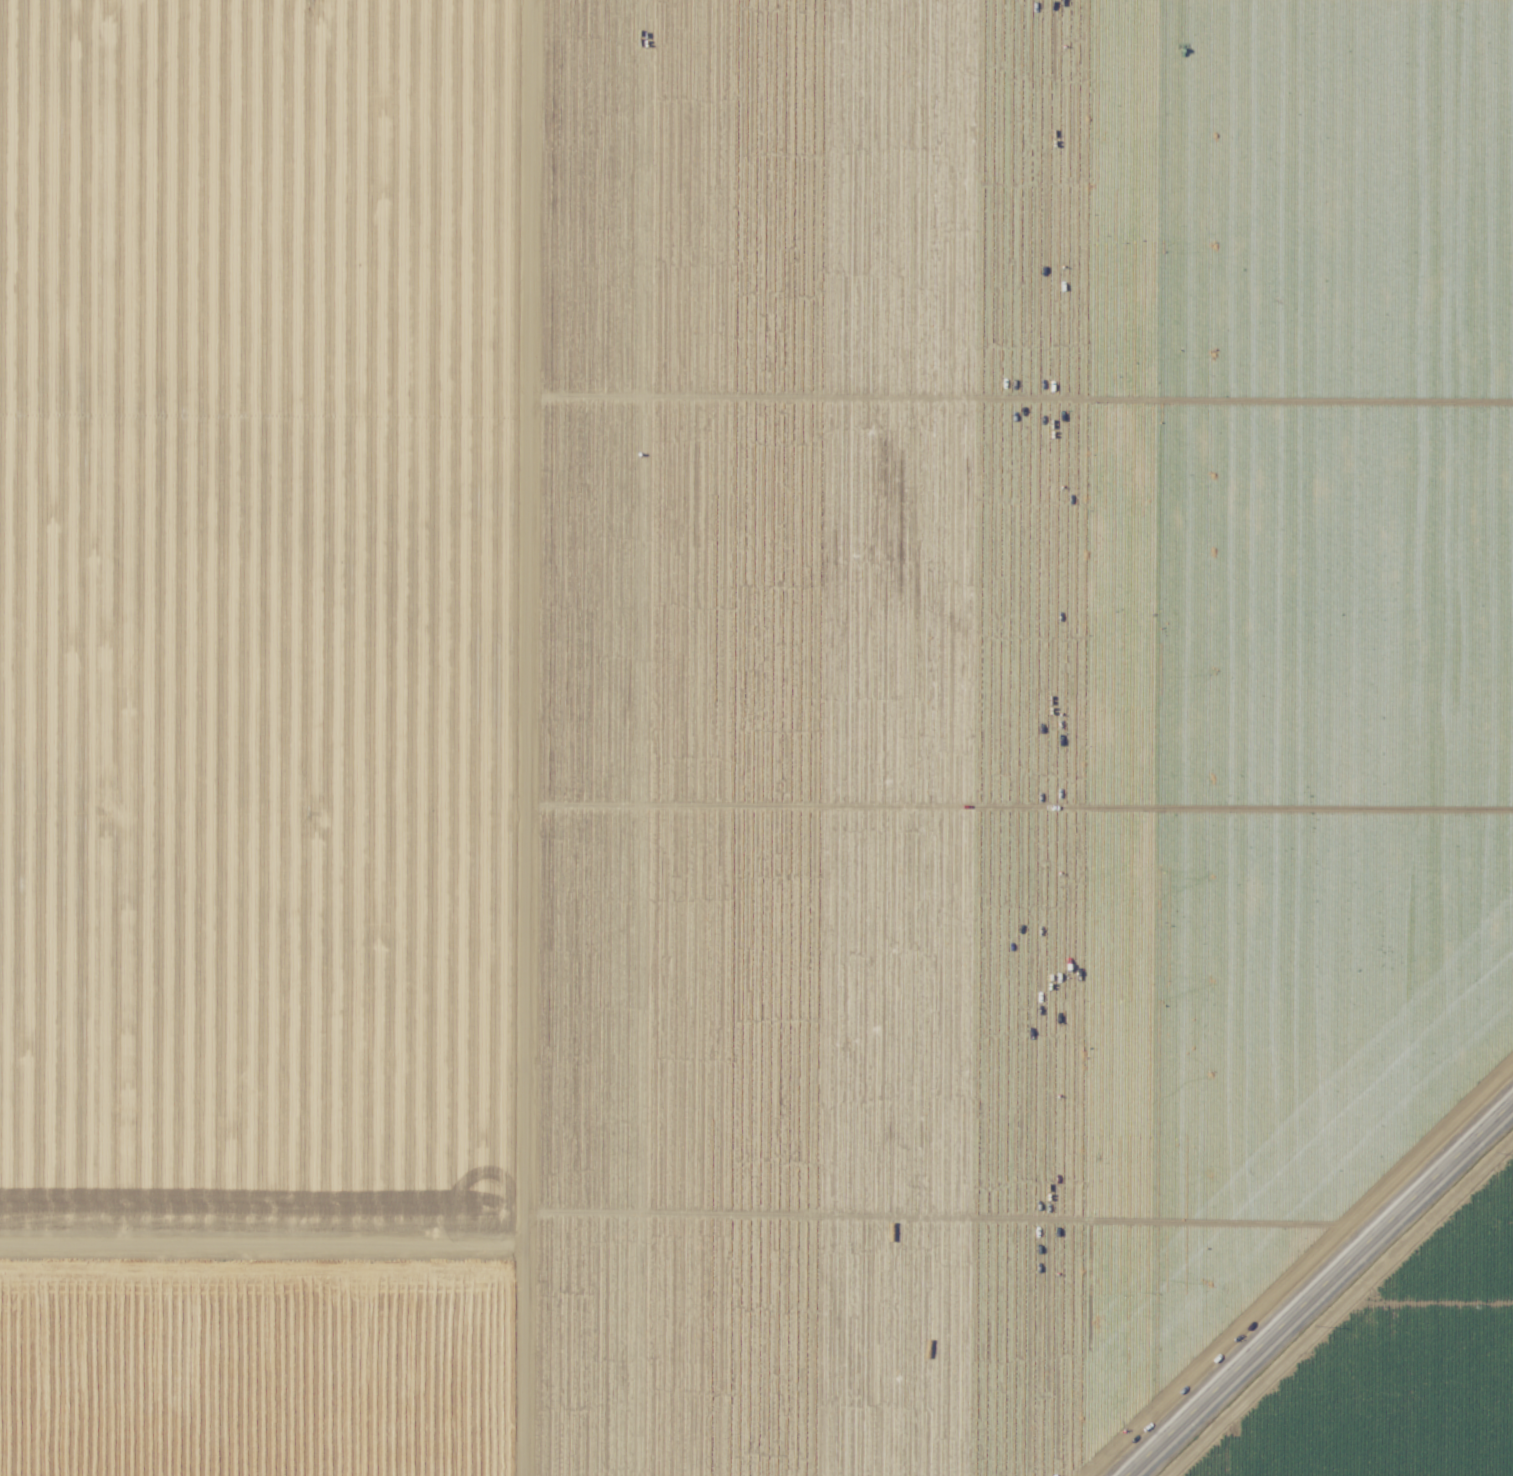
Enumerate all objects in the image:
road: (1329, 1298)

